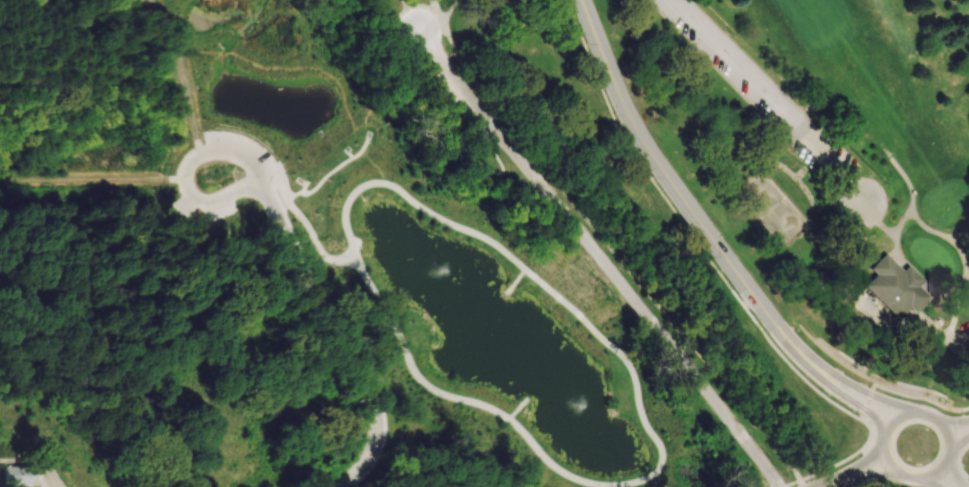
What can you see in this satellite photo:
road: (441, 14)
road: (452, 14)
parking lot: (758, 85)
road: (773, 100)
parking lot: (468, 101)
road: (170, 138)
parking lot: (249, 154)
road: (500, 158)
park: (829, 164)
road: (189, 166)
road: (330, 170)
road: (666, 171)
road: (911, 192)
parking lot: (208, 205)
park: (773, 208)
road: (305, 221)
road: (878, 222)
road: (687, 229)
road: (927, 230)
road: (959, 236)
road: (600, 257)
road: (622, 257)
park: (392, 263)
road: (965, 265)
road: (916, 273)
building: (895, 286)
road: (953, 319)
road: (347, 334)
building: (965, 335)
road: (338, 339)
road: (949, 347)
road: (842, 380)
road: (827, 383)
road: (931, 402)
road: (868, 406)
road: (642, 414)
road: (957, 421)
road: (962, 440)
road: (884, 458)
road: (20, 461)
road: (856, 469)
road: (52, 472)
building: (17, 474)
road: (960, 474)
road: (863, 476)
road: (936, 483)
road: (790, 484)
road: (801, 484)

